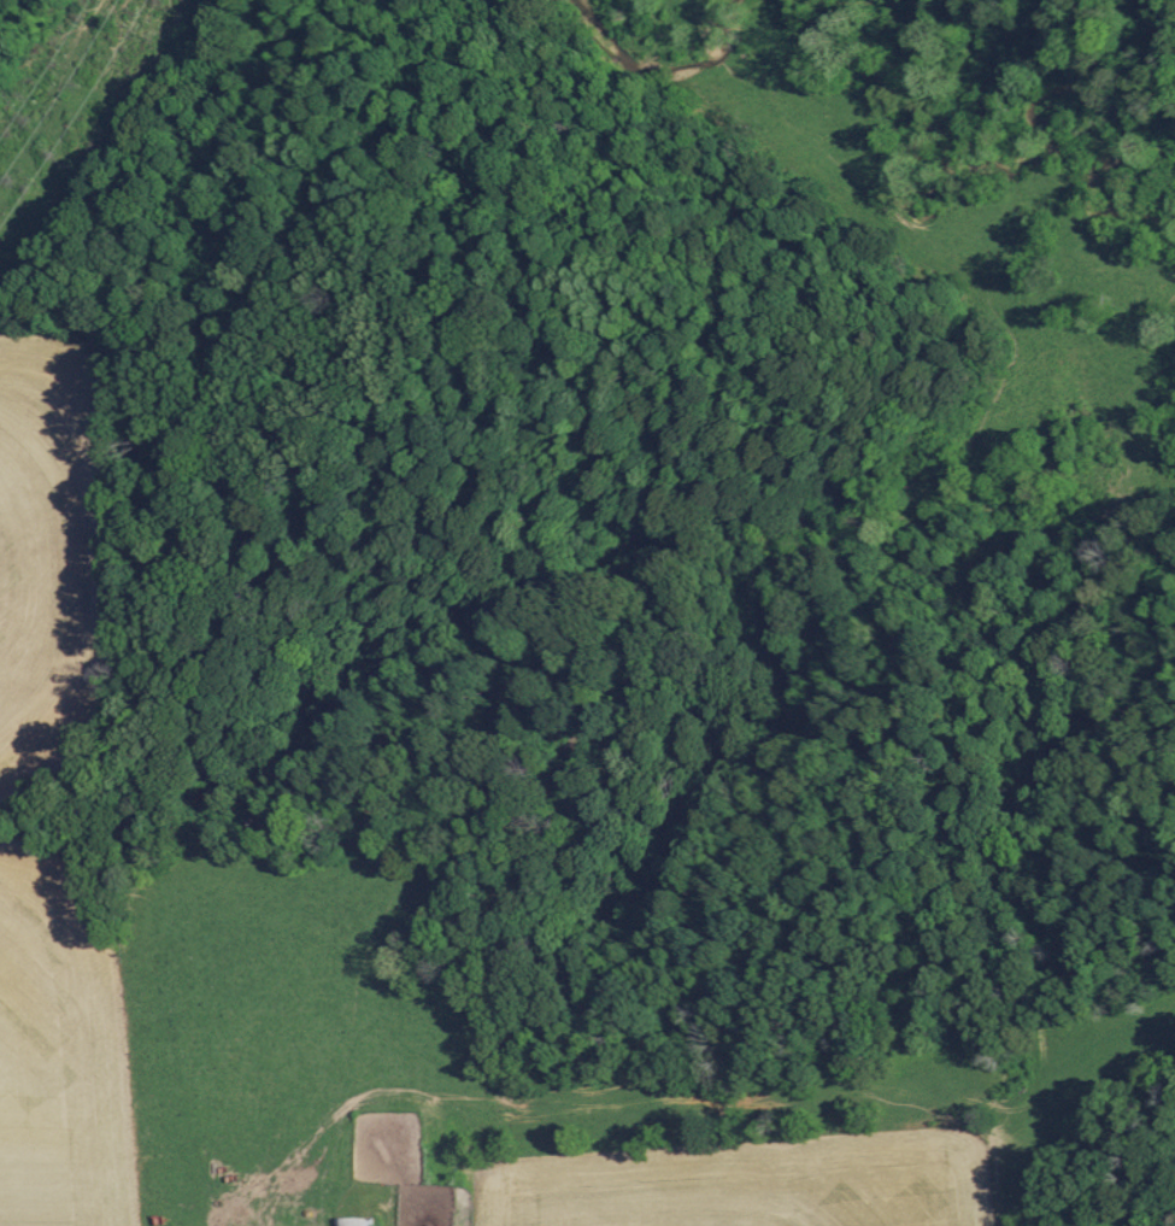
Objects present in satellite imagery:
building: (352, 1221)

